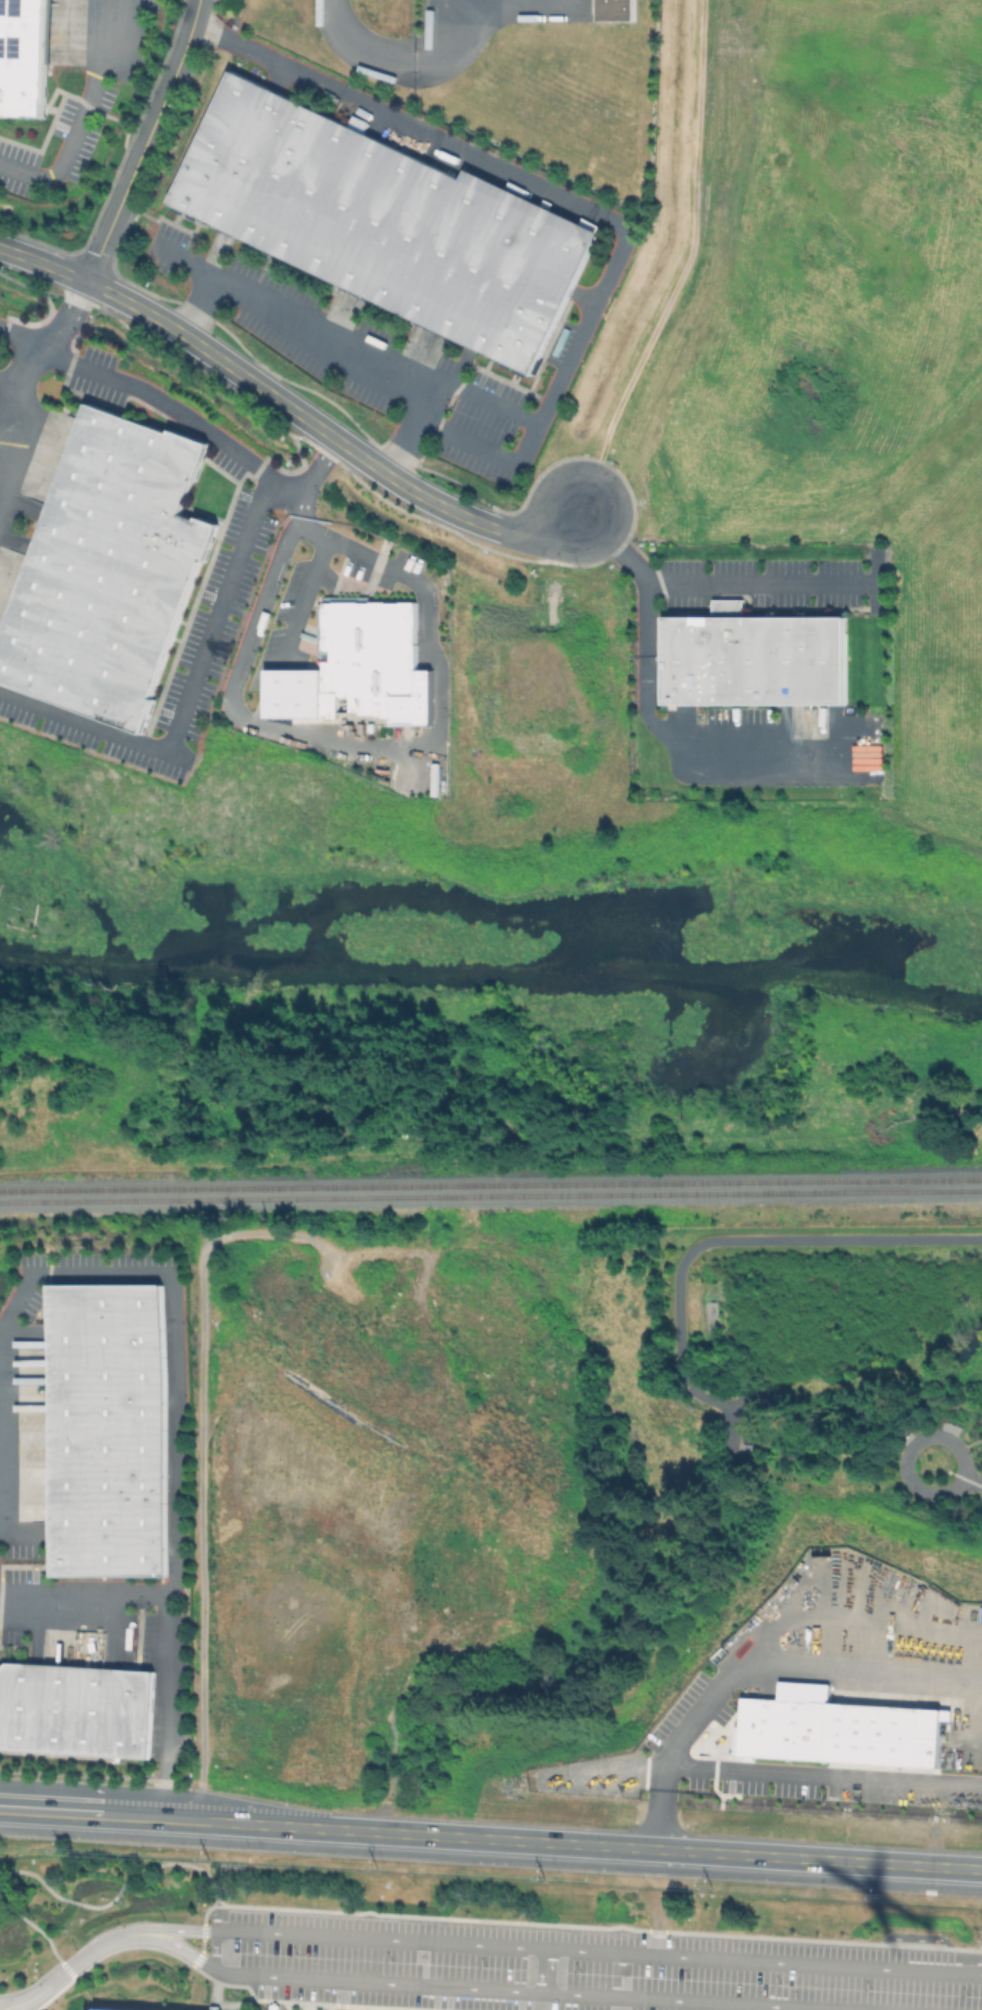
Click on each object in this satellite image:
building: (613, 10)
road: (468, 25)
road: (363, 49)
building: (24, 57)
road: (82, 116)
road: (146, 141)
road: (508, 169)
building: (387, 223)
road: (683, 265)
road: (211, 282)
road: (37, 356)
road: (362, 360)
road: (286, 405)
road: (182, 416)
road: (533, 436)
road: (341, 545)
road: (639, 570)
building: (111, 572)
road: (761, 582)
building: (731, 608)
road: (293, 631)
building: (377, 657)
building: (756, 661)
road: (189, 695)
building: (404, 734)
road: (315, 741)
road: (710, 758)
railway: (491, 1183)
railway: (490, 1195)
road: (721, 1240)
road: (174, 1335)
building: (112, 1431)
road: (970, 1443)
road: (910, 1452)
road: (973, 1483)
road: (162, 1625)
road: (797, 1664)
building: (76, 1710)
building: (836, 1728)
road: (781, 1772)
road: (81, 1813)
road: (572, 1844)
road: (195, 1867)
road: (32, 1874)
road: (118, 1888)
road: (69, 1901)
road: (98, 1905)
road: (6, 1908)
road: (20, 1918)
road: (218, 1932)
road: (48, 1945)
road: (216, 1950)
road: (75, 1963)
road: (549, 1972)
road: (2, 2009)

